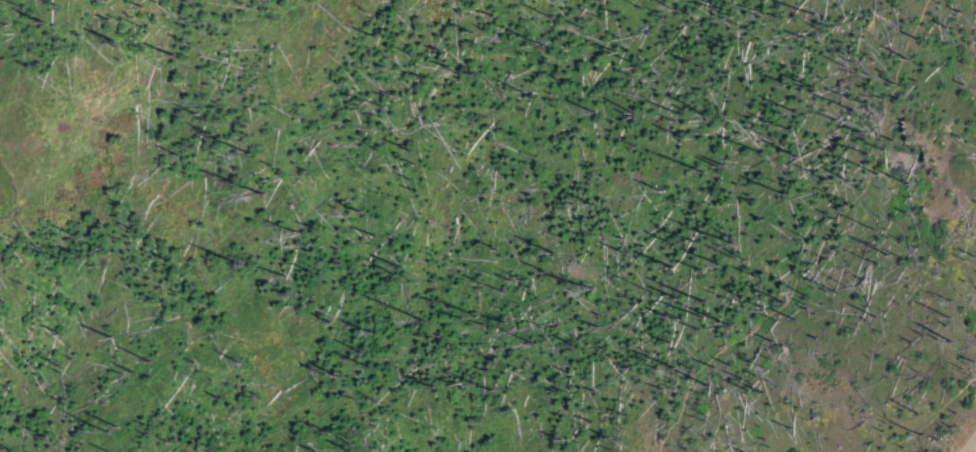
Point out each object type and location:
road: (821, 242)
road: (932, 415)
road: (969, 442)

